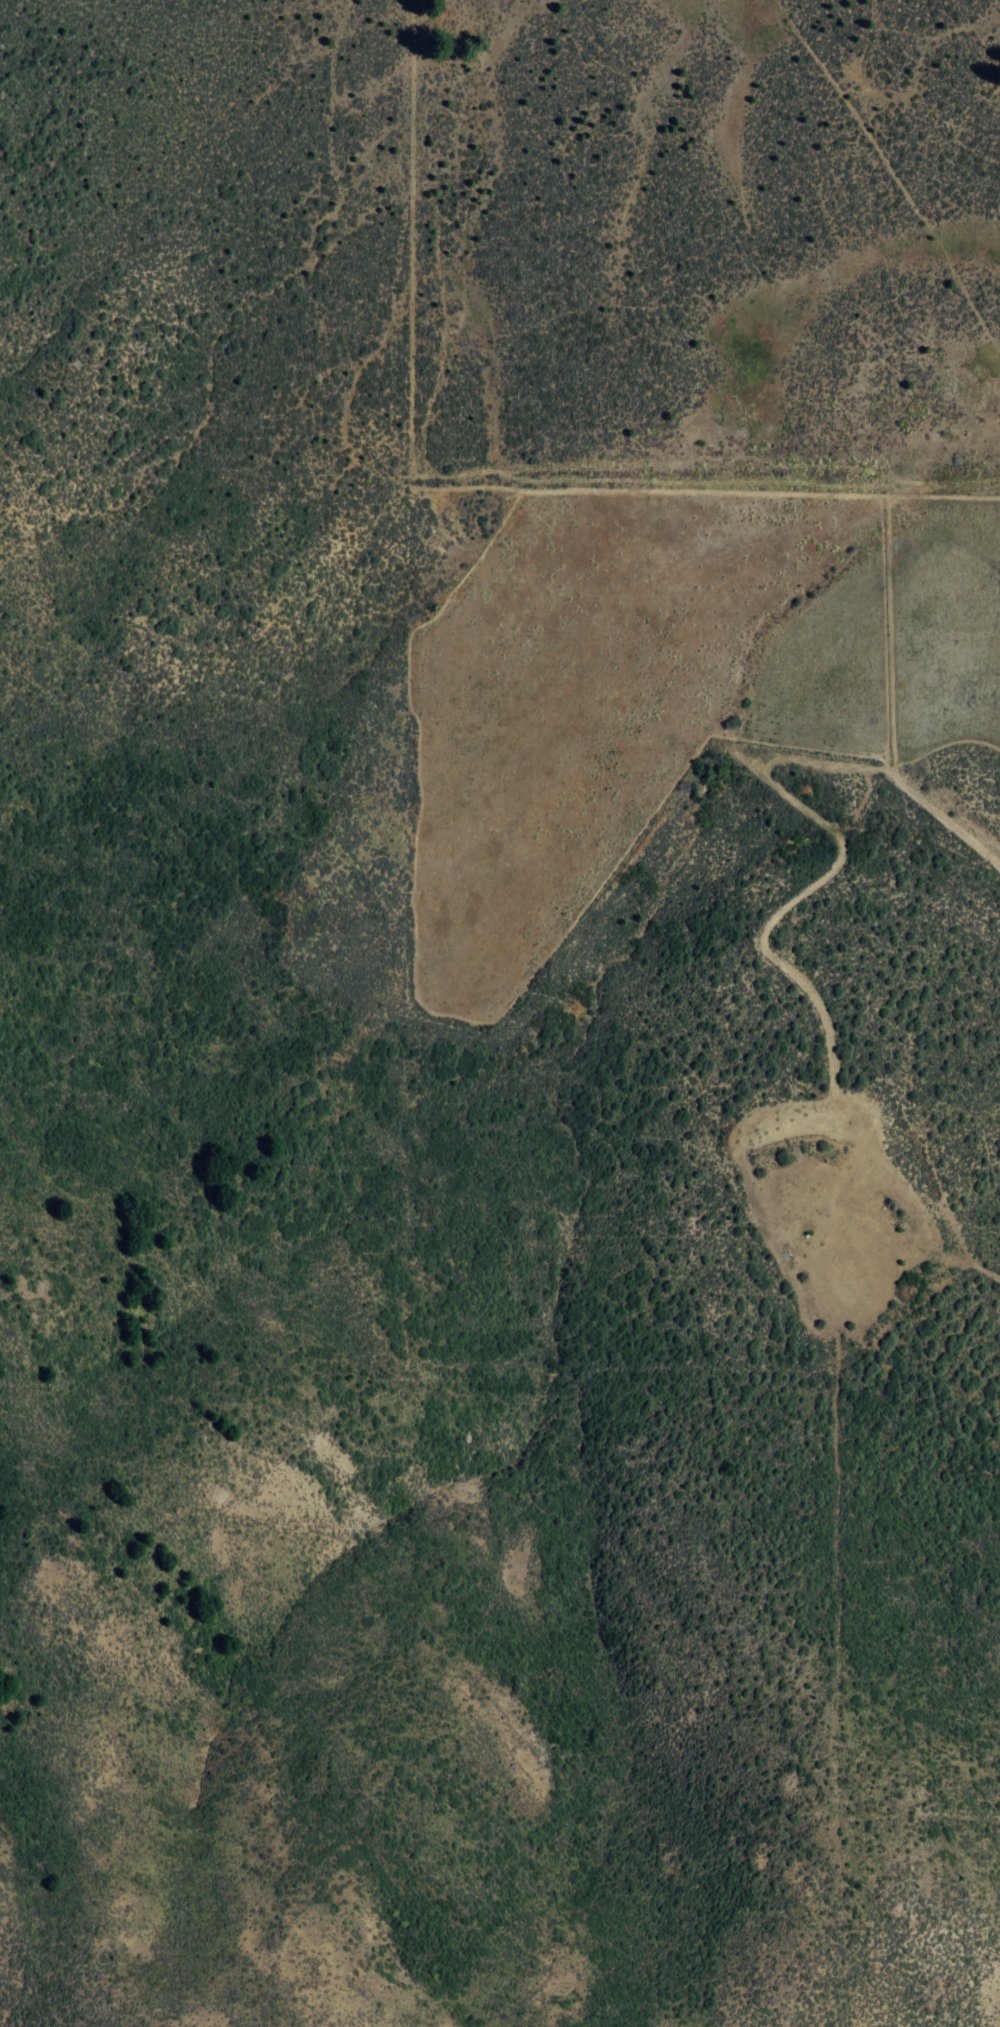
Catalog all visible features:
crop: (616, 1154)

